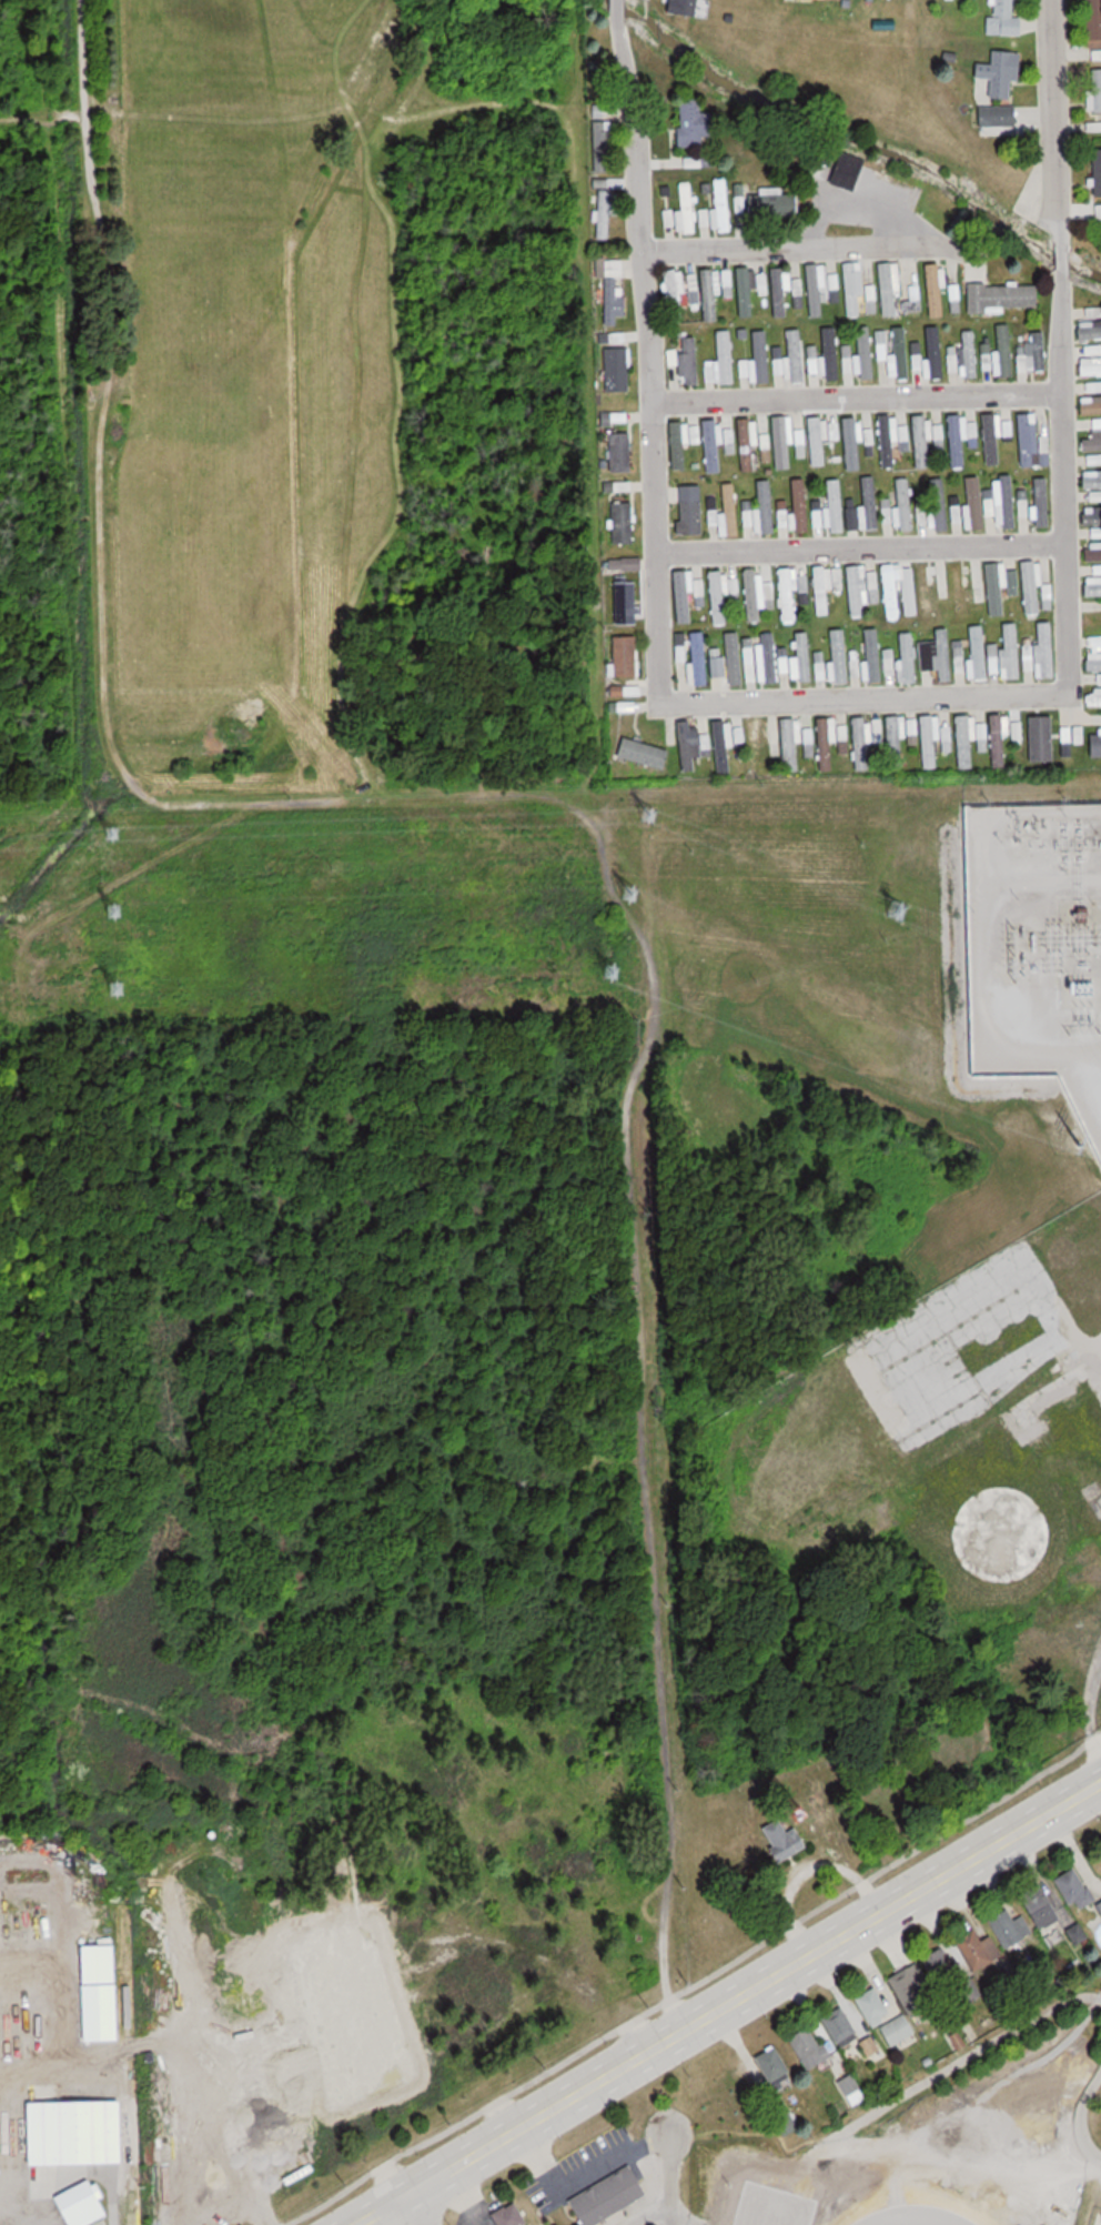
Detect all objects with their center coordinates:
building: (948, 0)
building: (1094, 19)
building: (1006, 20)
building: (1002, 73)
building: (1097, 91)
building: (998, 118)
building: (696, 124)
building: (1097, 127)
building: (602, 139)
building: (1097, 170)
building: (775, 203)
building: (723, 204)
building: (688, 207)
building: (1098, 212)
building: (604, 213)
road: (781, 245)
building: (727, 282)
building: (676, 286)
building: (850, 288)
building: (933, 288)
building: (694, 289)
building: (886, 289)
building: (746, 291)
building: (812, 291)
building: (710, 293)
building: (776, 293)
building: (1001, 296)
building: (615, 299)
building: (913, 301)
building: (1088, 330)
road: (1050, 344)
road: (646, 349)
building: (881, 351)
building: (1038, 351)
building: (830, 352)
building: (865, 353)
building: (903, 353)
building: (936, 353)
building: (1006, 353)
building: (761, 355)
building: (796, 355)
building: (970, 355)
building: (725, 356)
building: (690, 358)
building: (814, 361)
building: (616, 368)
building: (1088, 368)
road: (851, 396)
building: (1089, 406)
building: (1097, 425)
building: (1026, 434)
building: (989, 437)
building: (957, 440)
building: (885, 441)
building: (920, 441)
building: (745, 442)
building: (765, 442)
building: (816, 442)
building: (782, 443)
building: (799, 443)
building: (849, 443)
building: (1089, 444)
building: (678, 446)
building: (713, 446)
building: (622, 451)
building: (1089, 480)
building: (1004, 500)
building: (974, 502)
building: (906, 504)
building: (940, 504)
building: (1037, 504)
building: (799, 505)
building: (836, 505)
building: (873, 505)
building: (766, 506)
building: (693, 507)
building: (733, 507)
building: (887, 512)
building: (784, 514)
building: (1091, 516)
building: (938, 517)
building: (818, 519)
building: (626, 524)
building: (1097, 532)
road: (853, 547)
building: (1091, 553)
building: (629, 565)
building: (1097, 570)
building: (978, 582)
building: (994, 587)
building: (1031, 587)
building: (926, 588)
building: (958, 588)
building: (821, 590)
building: (889, 590)
building: (855, 591)
building: (1091, 591)
building: (786, 593)
building: (683, 594)
building: (717, 595)
building: (751, 595)
building: (628, 601)
building: (1043, 650)
building: (1010, 652)
building: (981, 653)
building: (839, 654)
building: (873, 654)
building: (942, 655)
building: (628, 656)
building: (700, 656)
building: (734, 657)
building: (769, 657)
building: (804, 657)
building: (908, 657)
building: (1093, 662)
building: (1093, 697)
road: (856, 701)
building: (1071, 734)
building: (1039, 736)
building: (927, 738)
building: (790, 739)
building: (824, 739)
building: (963, 739)
building: (998, 739)
building: (890, 741)
building: (857, 742)
building: (721, 743)
building: (808, 743)
building: (686, 744)
building: (756, 744)
building: (1095, 744)
building: (646, 752)
power tower: (646, 813)
power tower: (111, 830)
road: (1039, 877)
power tower: (630, 893)
power tower: (118, 908)
power tower: (896, 912)
power substation: (1036, 948)
power tower: (608, 968)
power tower: (120, 990)
road: (983, 1017)
road: (1092, 1076)
power tower: (1078, 1151)
building: (1085, 1556)
road: (1088, 1702)
building: (787, 1839)
building: (1082, 1889)
building: (1048, 1907)
building: (1010, 1927)
building: (978, 1949)
building: (941, 1966)
building: (915, 1992)
road: (721, 2002)
building: (875, 2006)
building: (845, 2028)
building: (898, 2031)
building: (810, 2047)
building: (775, 2066)
road: (921, 2085)
building: (850, 2086)
road: (987, 2092)
road: (1083, 2118)
building: (78, 2132)
park: (945, 2150)
road: (953, 2162)
road: (577, 2177)
road: (666, 2178)
road: (467, 2189)
building: (610, 2196)
road: (426, 2201)
building: (84, 2204)
park: (862, 2205)
road: (670, 2209)
building: (512, 2215)
park: (1092, 2219)
building: (1098, 2221)
road: (354, 2223)

